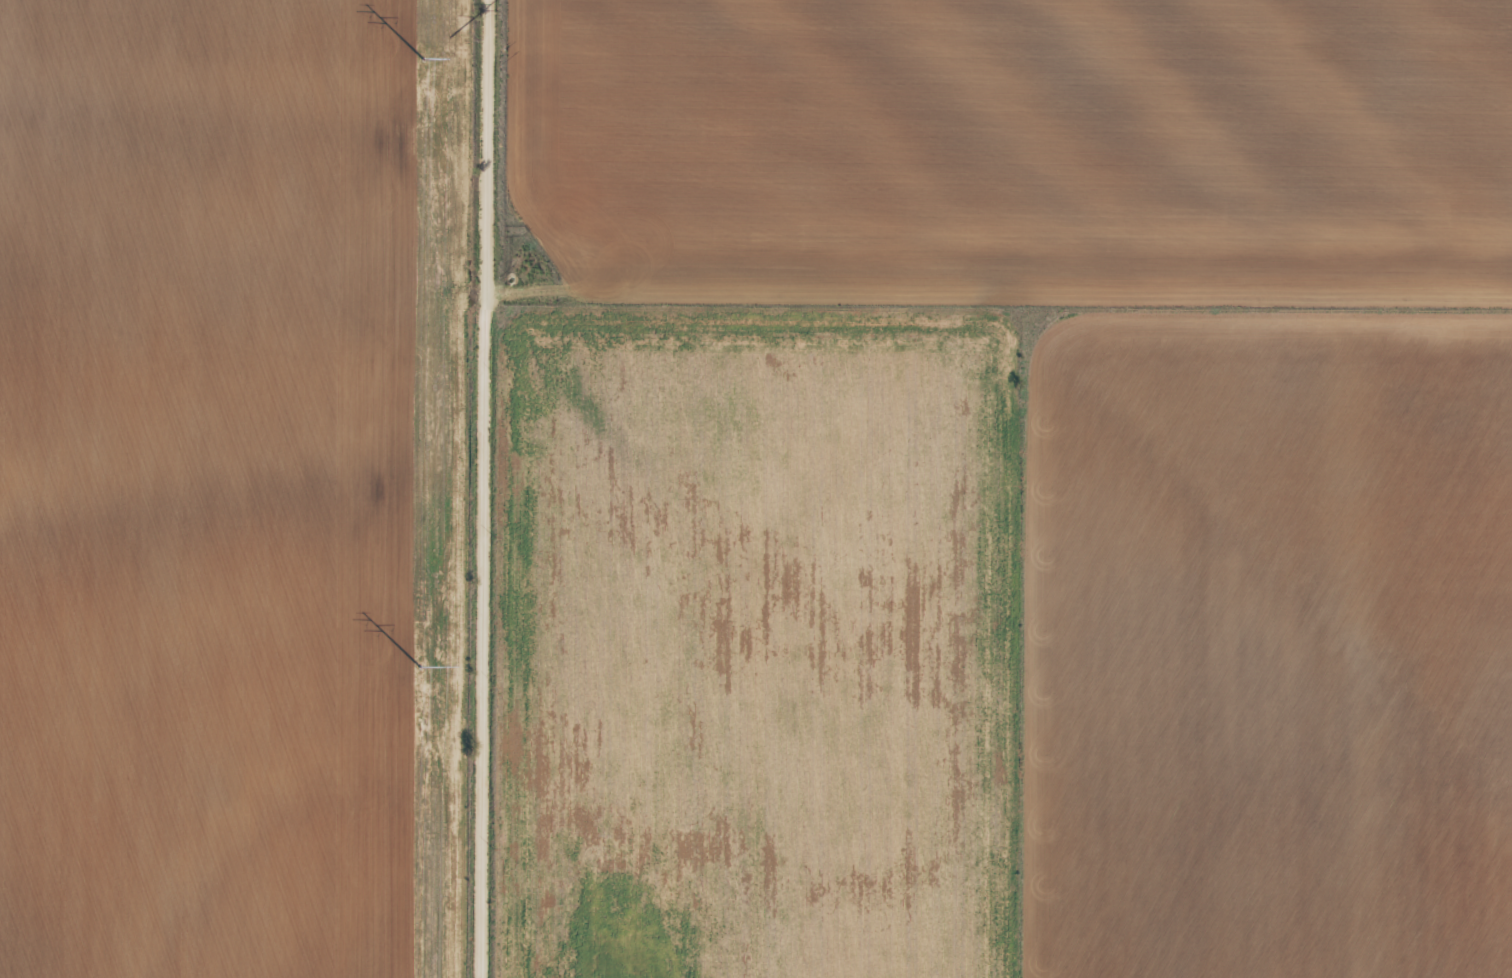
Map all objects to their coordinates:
road: (464, 489)

